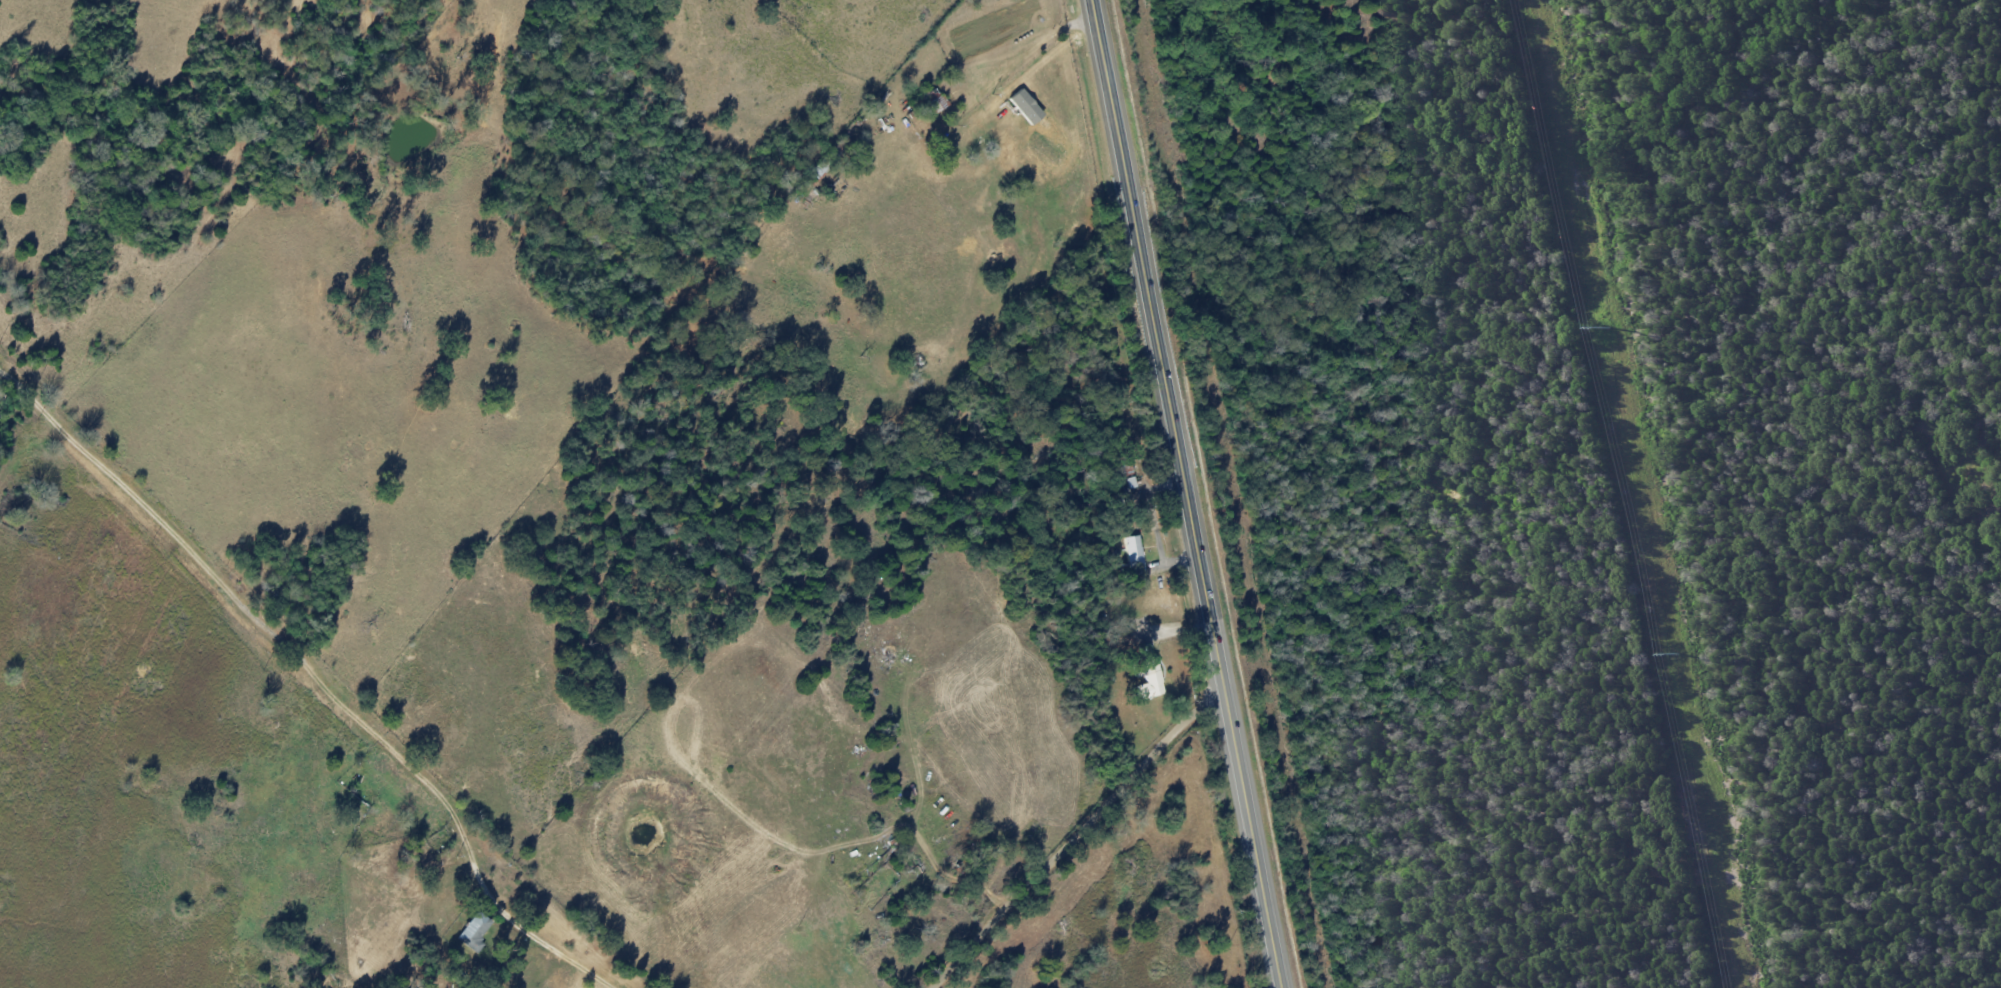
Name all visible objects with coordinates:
road: (1016, 61)
building: (1026, 107)
power tower: (1606, 327)
road: (1187, 494)
building: (1134, 556)
power tower: (1675, 653)
road: (314, 675)
building: (1150, 679)
road: (1079, 837)
building: (474, 932)

